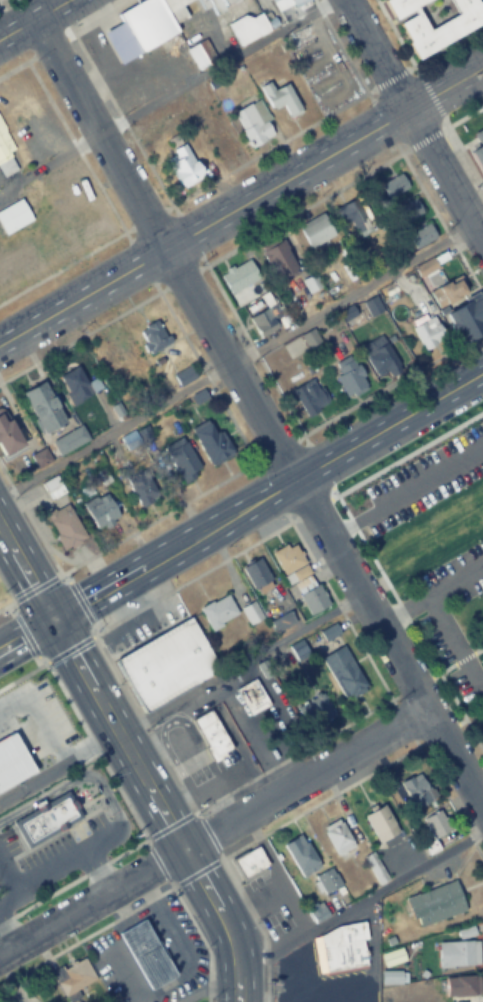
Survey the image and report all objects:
building: (219, 3)
building: (280, 4)
building: (404, 6)
road: (34, 19)
building: (145, 26)
building: (443, 27)
road: (445, 47)
road: (16, 64)
road: (217, 67)
road: (478, 75)
building: (280, 96)
road: (462, 115)
road: (414, 121)
building: (254, 123)
building: (480, 134)
road: (424, 137)
building: (221, 144)
road: (77, 150)
building: (5, 154)
building: (479, 157)
road: (462, 161)
building: (185, 166)
building: (394, 185)
road: (241, 201)
building: (409, 210)
building: (17, 213)
building: (349, 214)
building: (316, 231)
building: (421, 236)
building: (280, 262)
road: (65, 263)
building: (15, 265)
building: (239, 277)
building: (310, 284)
building: (449, 292)
building: (373, 306)
building: (265, 321)
building: (467, 321)
building: (429, 333)
building: (152, 338)
road: (234, 357)
building: (380, 359)
building: (183, 376)
building: (350, 378)
building: (78, 386)
building: (309, 397)
building: (45, 408)
road: (260, 416)
building: (9, 435)
building: (69, 441)
building: (212, 442)
building: (479, 443)
road: (406, 453)
building: (183, 463)
building: (452, 471)
building: (140, 491)
road: (266, 495)
building: (417, 495)
road: (313, 506)
building: (103, 512)
building: (383, 518)
road: (153, 519)
road: (33, 525)
building: (65, 526)
road: (5, 539)
building: (287, 556)
building: (256, 570)
road: (192, 574)
road: (29, 584)
road: (34, 586)
road: (6, 587)
road: (429, 593)
building: (312, 597)
road: (80, 600)
road: (396, 600)
road: (6, 601)
road: (336, 604)
road: (13, 605)
building: (217, 610)
building: (251, 611)
building: (282, 619)
traffic signals: (50, 620)
parking lot: (451, 620)
road: (25, 632)
building: (330, 632)
road: (24, 633)
road: (451, 640)
road: (68, 647)
road: (477, 647)
building: (300, 651)
road: (461, 656)
building: (166, 665)
road: (241, 669)
road: (440, 669)
building: (344, 670)
road: (23, 673)
road: (480, 682)
road: (408, 687)
building: (252, 695)
road: (21, 703)
building: (313, 712)
road: (140, 717)
road: (286, 717)
road: (403, 721)
road: (115, 734)
building: (212, 735)
road: (250, 737)
road: (197, 743)
road: (91, 745)
road: (291, 755)
building: (7, 768)
building: (415, 790)
road: (319, 801)
road: (450, 802)
building: (47, 817)
building: (436, 821)
building: (379, 822)
road: (170, 824)
road: (211, 832)
road: (206, 833)
building: (338, 834)
building: (300, 854)
road: (158, 860)
building: (249, 862)
road: (59, 863)
road: (194, 868)
building: (374, 868)
road: (97, 869)
road: (9, 871)
road: (73, 878)
building: (326, 881)
road: (242, 894)
road: (359, 899)
building: (435, 900)
road: (252, 902)
road: (224, 920)
road: (86, 931)
road: (7, 936)
road: (202, 938)
building: (342, 946)
building: (146, 952)
building: (459, 952)
road: (263, 969)
building: (74, 979)
building: (461, 983)
road: (208, 986)
road: (298, 996)

